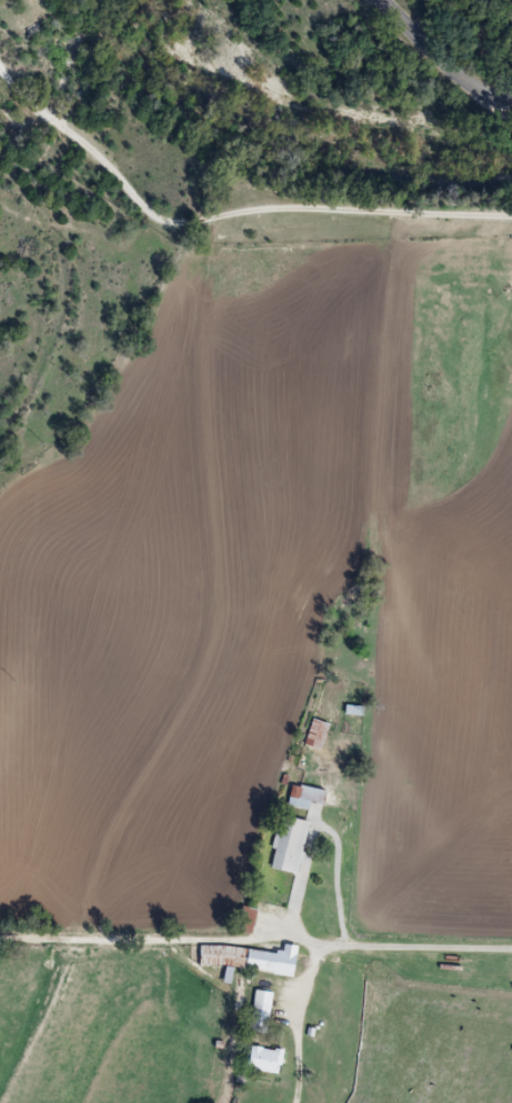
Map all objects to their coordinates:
road: (442, 60)
road: (223, 214)
railway: (58, 468)
building: (322, 733)
building: (312, 795)
building: (297, 843)
road: (403, 947)
building: (258, 957)
building: (267, 1011)
building: (271, 1059)

